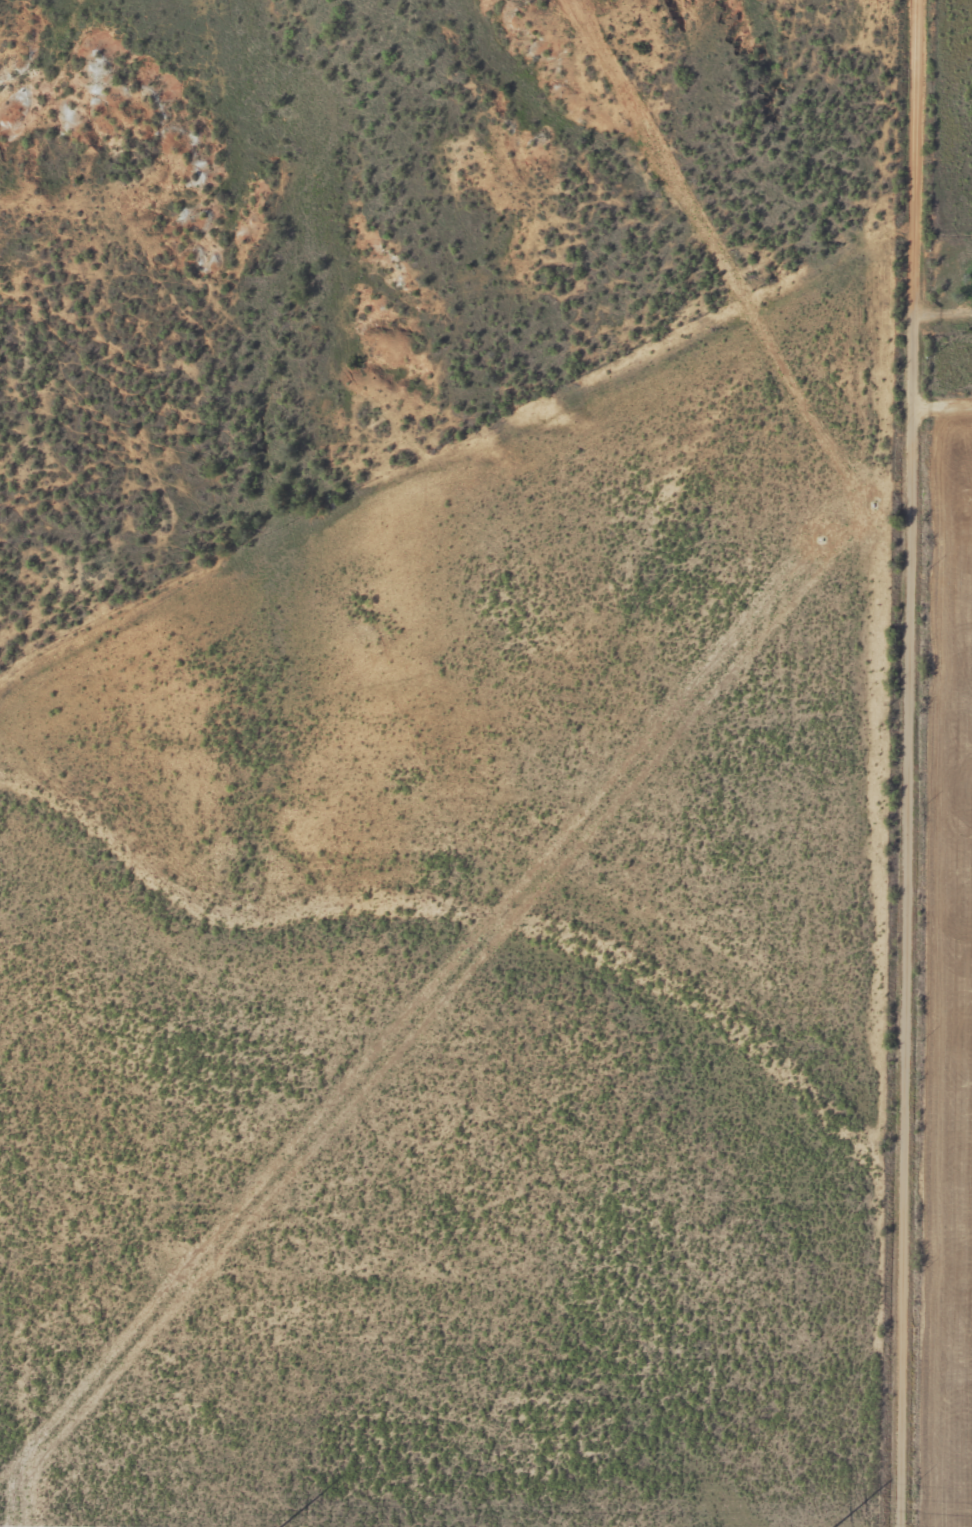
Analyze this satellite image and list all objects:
road: (944, 390)
road: (913, 763)

